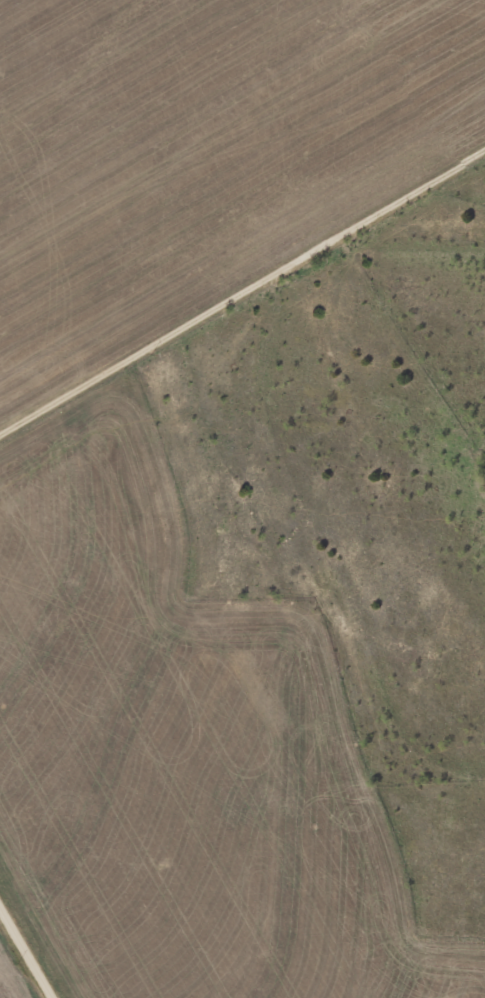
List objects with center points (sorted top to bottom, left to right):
road: (27, 950)

